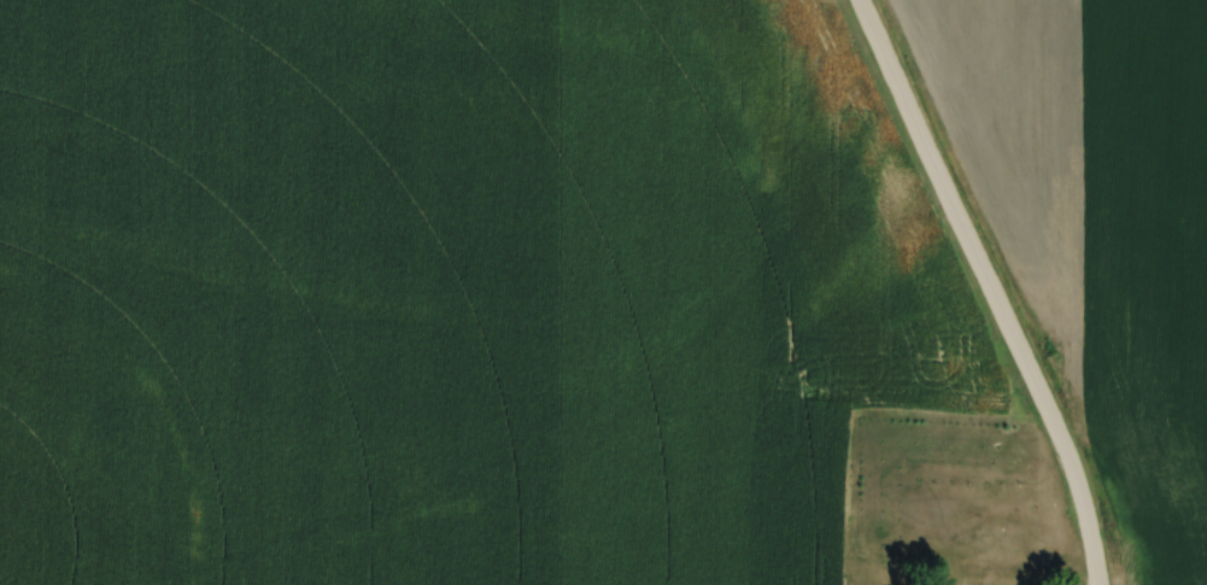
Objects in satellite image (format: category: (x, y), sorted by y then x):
road: (991, 287)
building: (865, 573)

